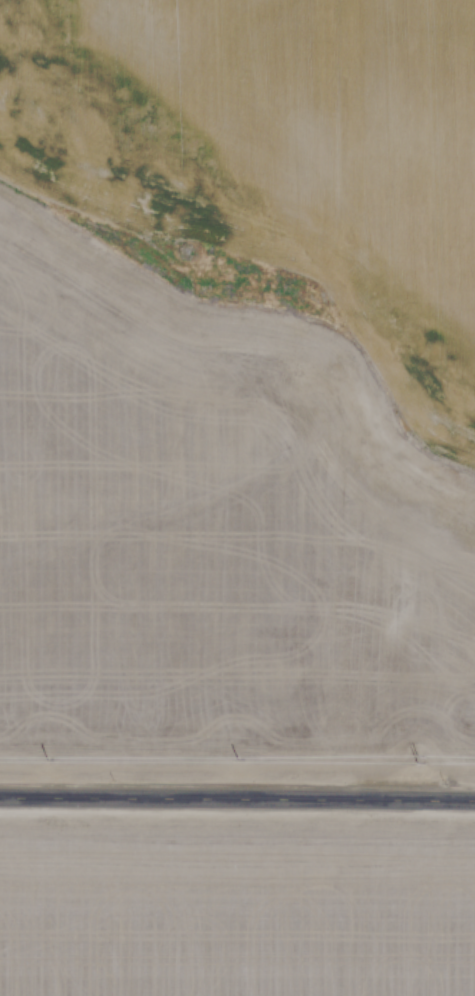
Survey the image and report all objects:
road: (237, 790)

